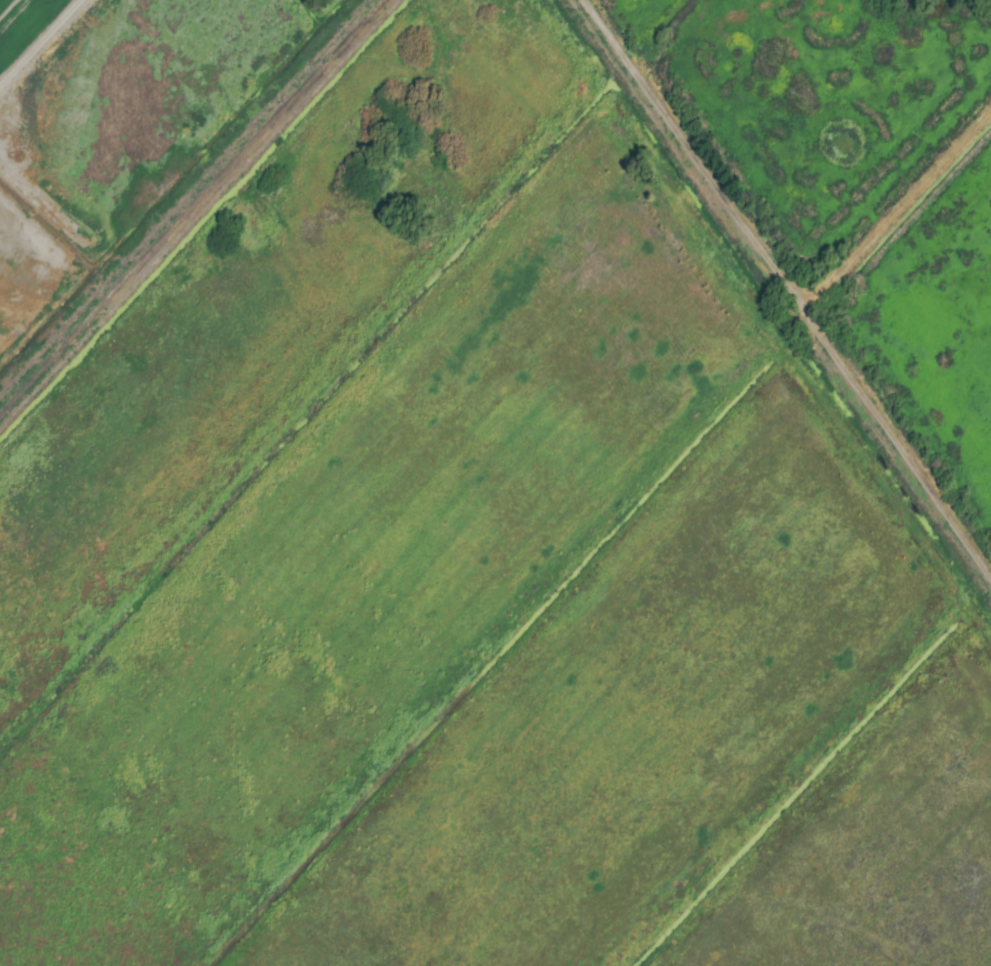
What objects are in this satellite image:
crop: (495, 483)

